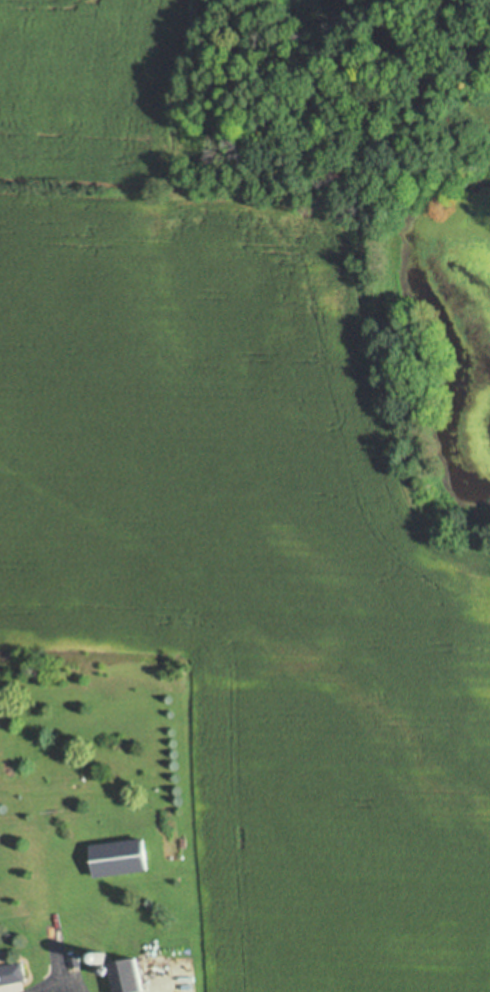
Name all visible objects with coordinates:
building: (120, 860)
building: (103, 957)
building: (76, 962)
building: (104, 968)
building: (12, 974)
building: (128, 978)
road: (59, 989)

